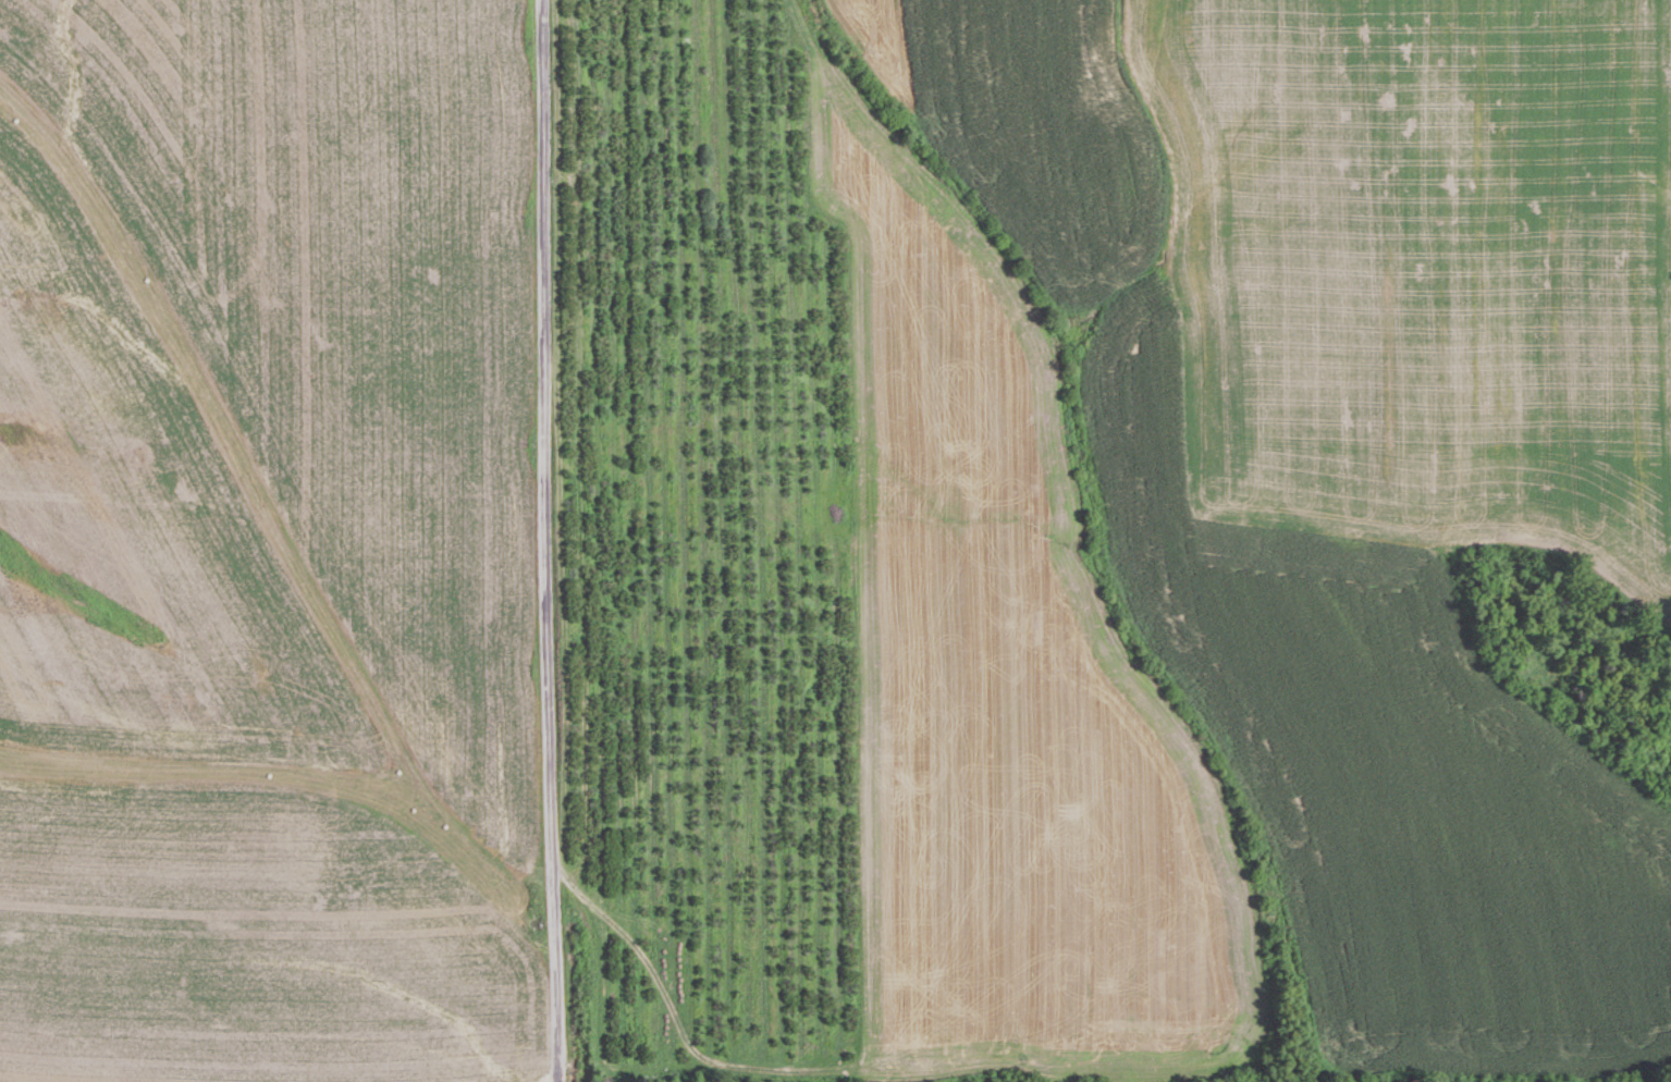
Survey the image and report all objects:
road: (550, 541)

